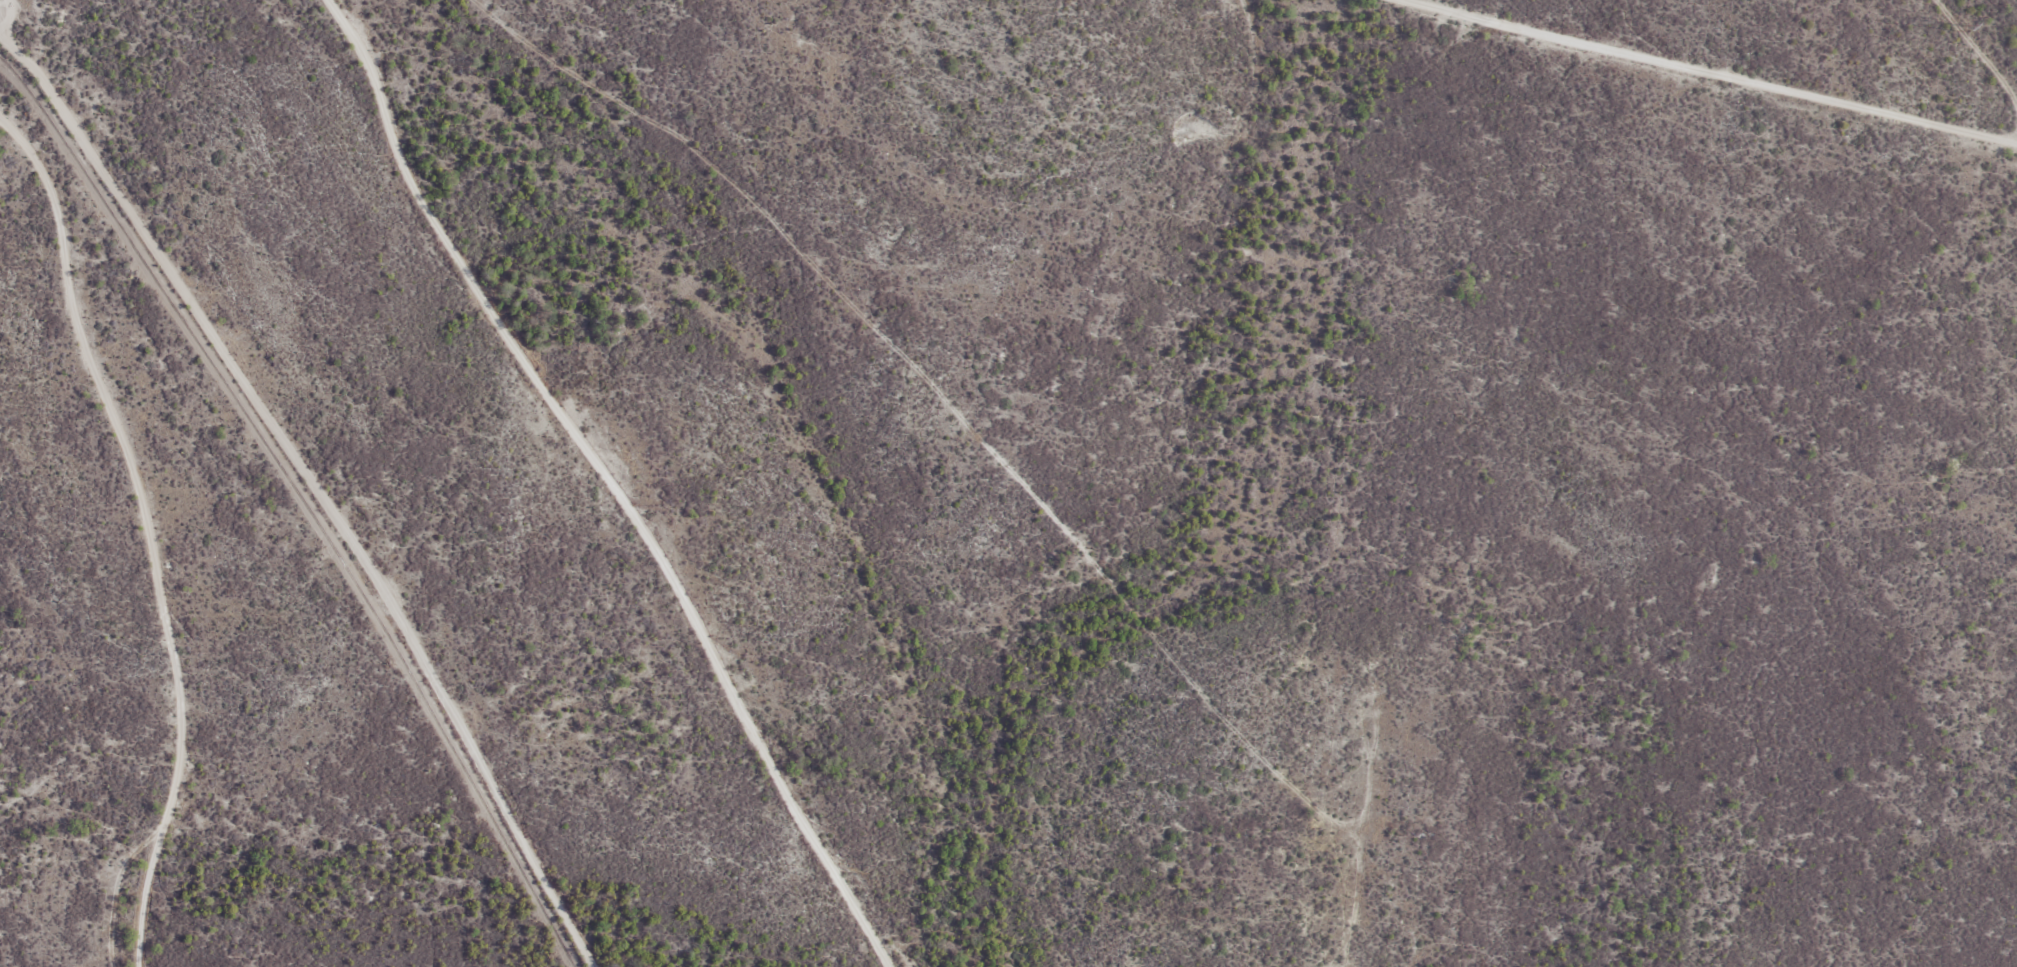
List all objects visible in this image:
power tower: (1955, 29)
road: (1712, 70)
road: (616, 480)
road: (154, 526)

